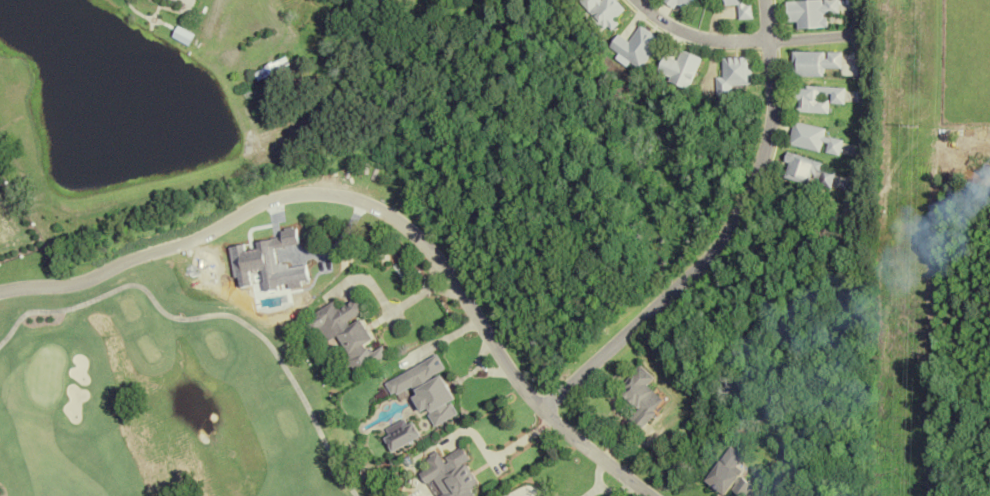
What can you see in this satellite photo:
building: (175, 0)
building: (681, 3)
building: (742, 8)
building: (604, 11)
building: (810, 12)
road: (740, 40)
building: (638, 47)
building: (813, 63)
building: (681, 70)
building: (733, 75)
road: (859, 97)
building: (816, 99)
building: (812, 138)
building: (806, 171)
road: (377, 210)
road: (723, 239)
building: (345, 329)
building: (426, 389)
building: (638, 397)
building: (448, 474)
building: (729, 475)
road: (602, 490)
road: (592, 491)

